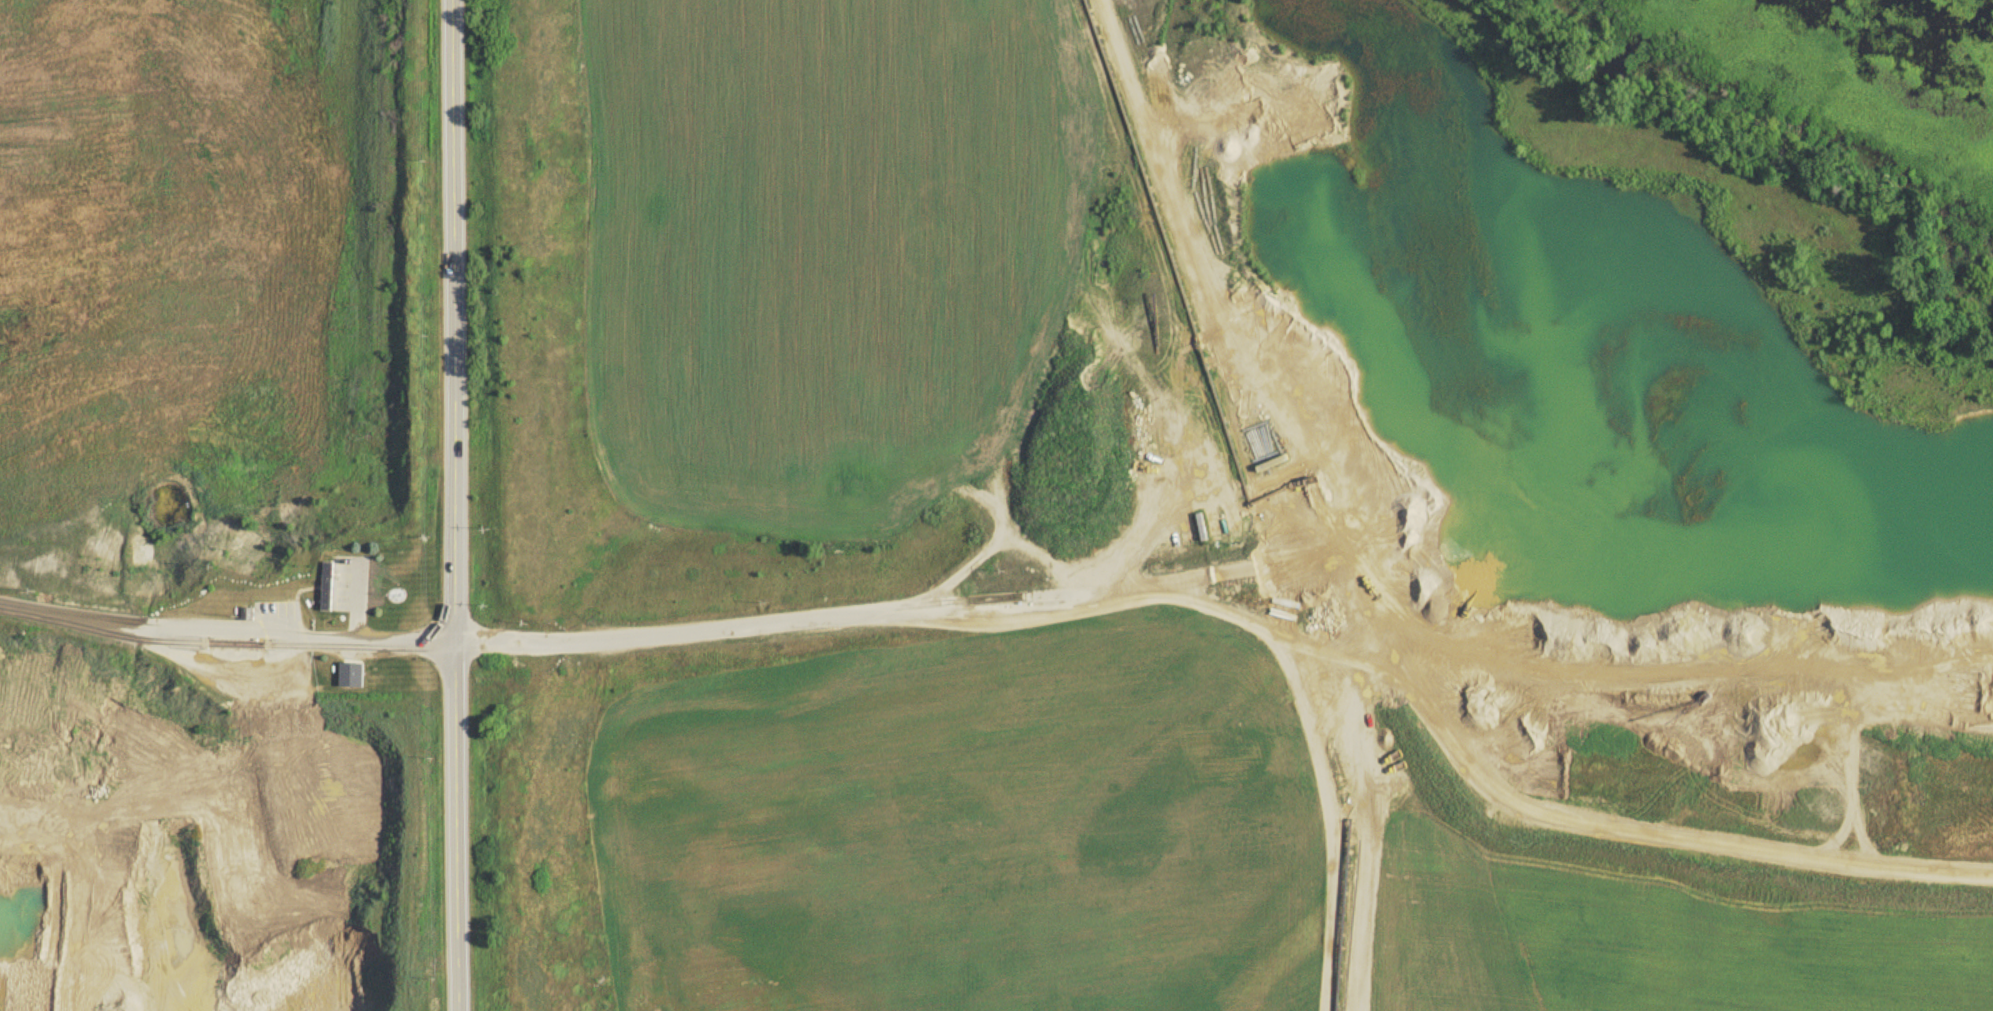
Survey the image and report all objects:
road: (241, 316)
road: (459, 505)
building: (328, 590)
road: (831, 619)
road: (229, 634)

